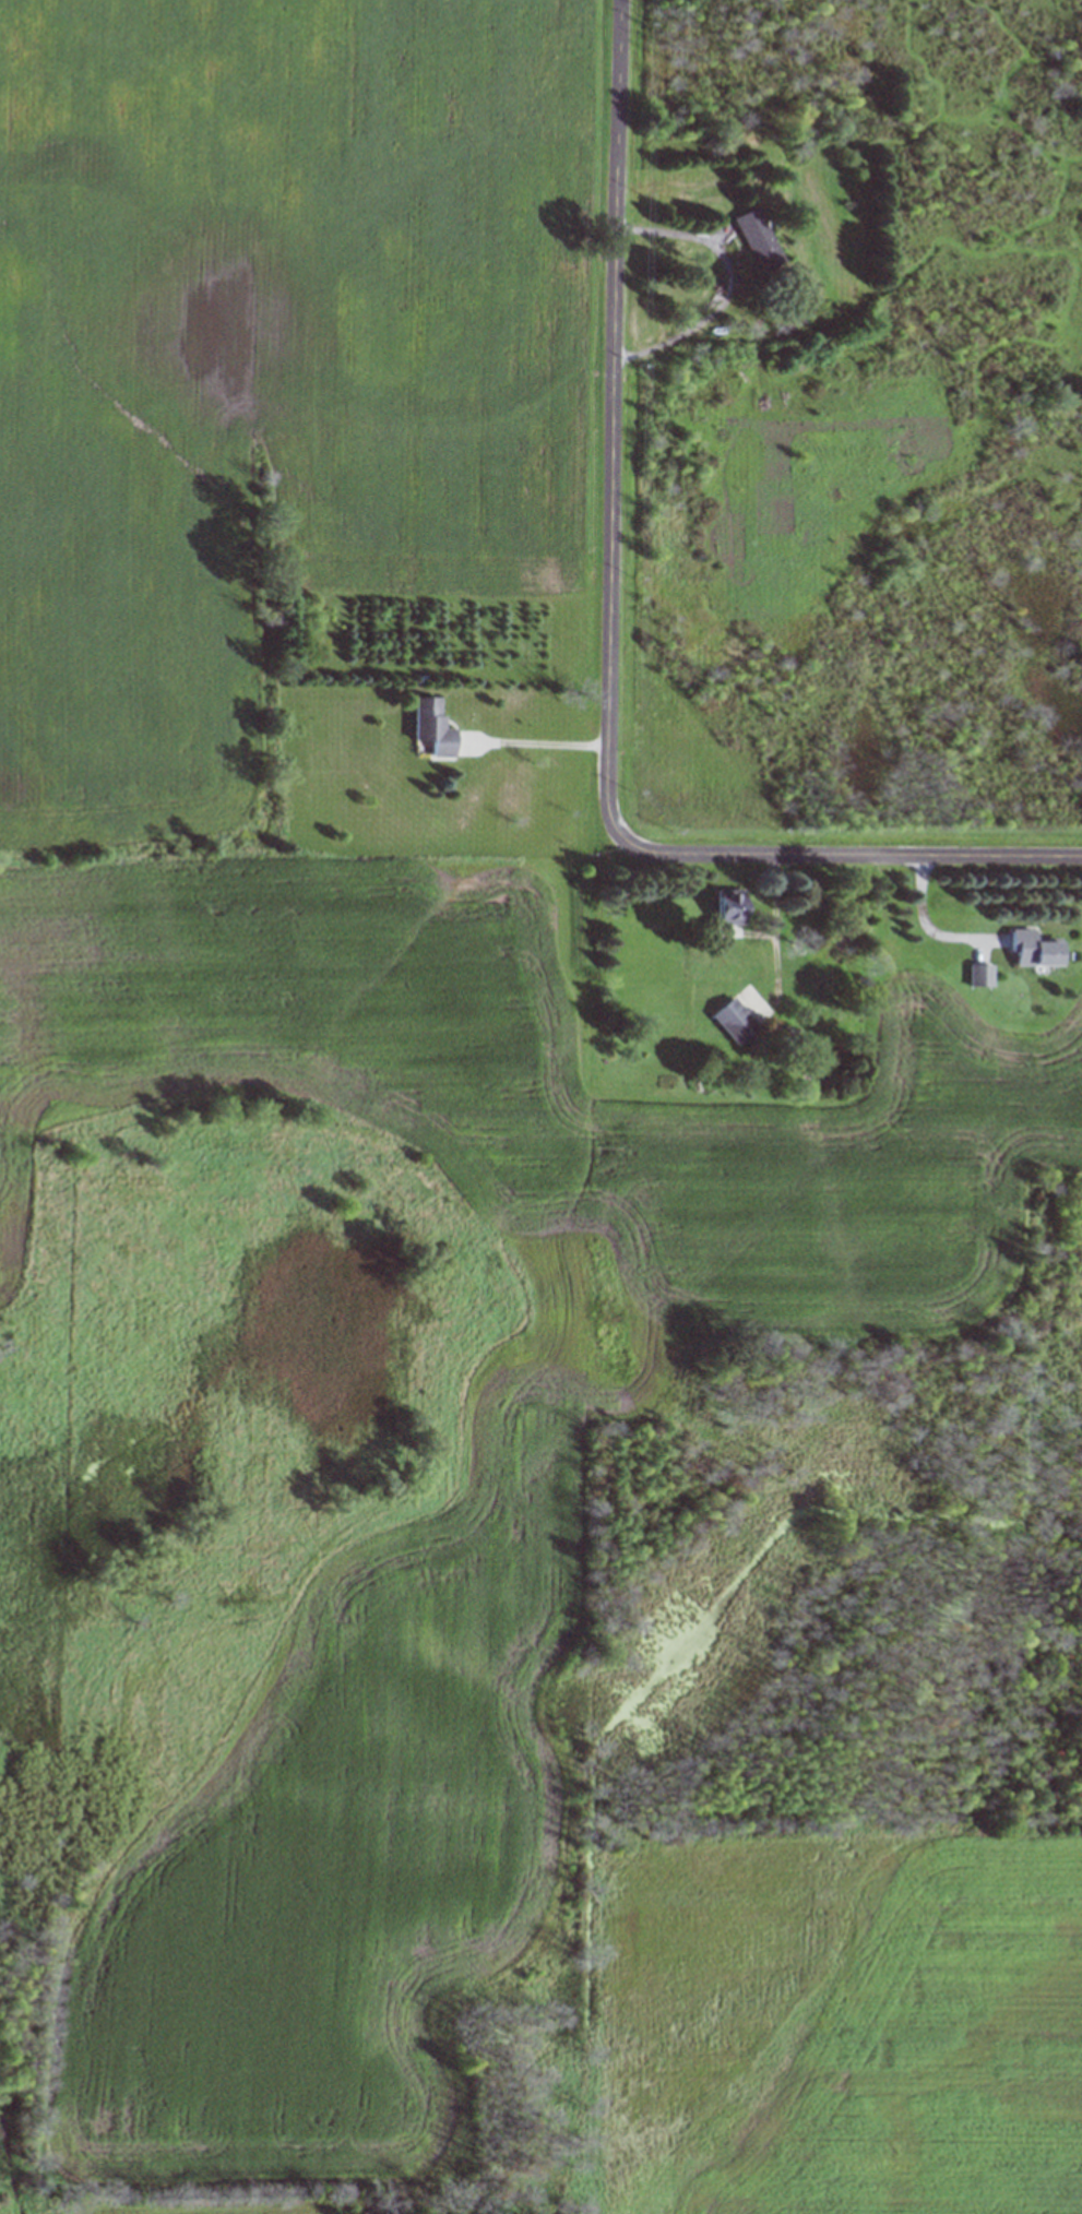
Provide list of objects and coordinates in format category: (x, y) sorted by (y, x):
building: (756, 241)
road: (609, 651)
building: (429, 727)
building: (725, 907)
building: (1030, 949)
building: (977, 975)
building: (733, 1021)

